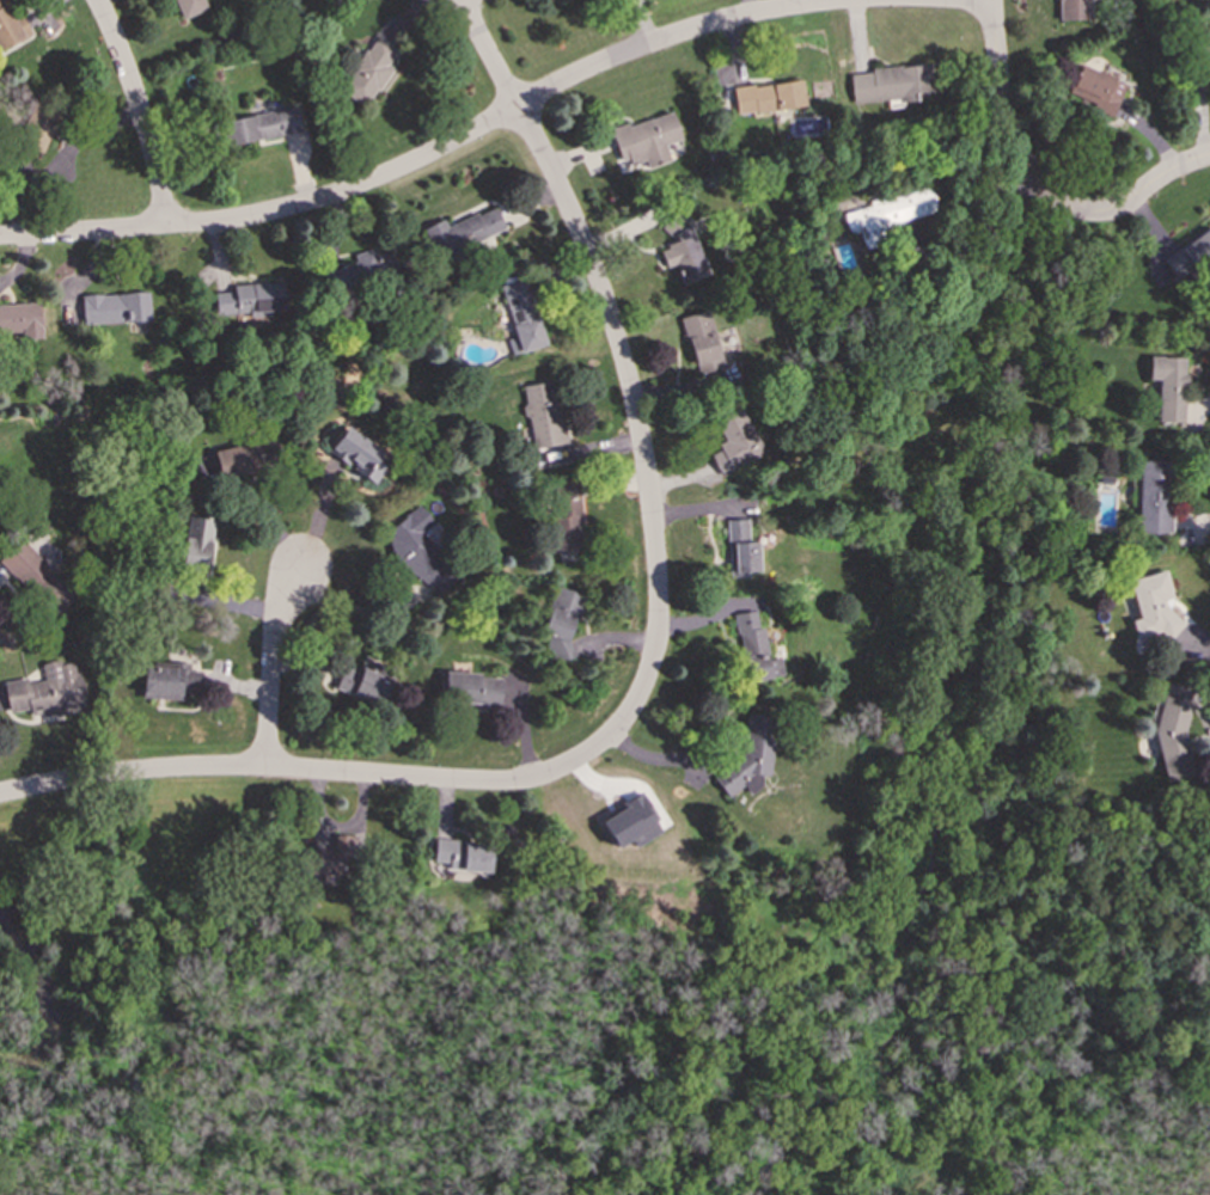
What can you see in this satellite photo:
road: (974, 0)
building: (188, 7)
building: (1074, 8)
building: (10, 26)
road: (485, 54)
building: (1204, 59)
building: (368, 71)
building: (890, 84)
building: (1095, 88)
building: (768, 97)
road: (139, 110)
road: (1007, 121)
building: (261, 125)
building: (38, 127)
building: (644, 140)
road: (435, 152)
road: (60, 160)
road: (1144, 188)
building: (886, 214)
road: (968, 231)
building: (463, 232)
building: (680, 249)
building: (1188, 253)
building: (359, 270)
building: (249, 299)
building: (114, 307)
building: (521, 317)
building: (20, 319)
building: (701, 342)
building: (1168, 386)
building: (543, 413)
road: (634, 413)
building: (734, 442)
building: (357, 454)
building: (230, 462)
building: (1151, 496)
building: (567, 514)
building: (197, 544)
building: (740, 550)
building: (418, 551)
building: (37, 577)
building: (1151, 608)
building: (561, 621)
road: (1196, 636)
building: (754, 649)
road: (269, 663)
building: (167, 681)
building: (361, 684)
building: (471, 688)
building: (47, 691)
building: (1173, 731)
building: (750, 756)
road: (312, 770)
building: (630, 822)
building: (462, 856)
building: (325, 858)
park: (126, 920)

